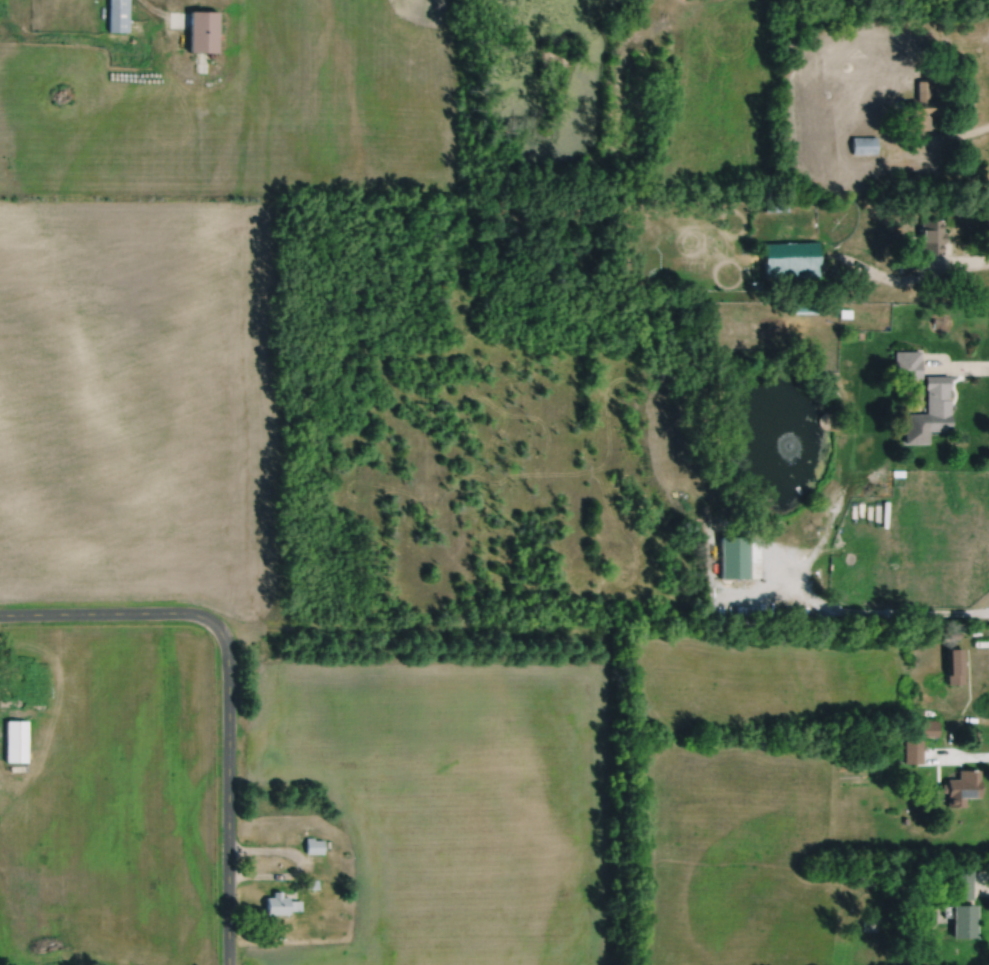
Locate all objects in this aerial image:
road: (156, 11)
building: (118, 15)
building: (202, 31)
building: (922, 106)
crop: (247, 110)
building: (860, 119)
road: (935, 140)
building: (864, 144)
building: (775, 206)
building: (931, 236)
building: (789, 259)
building: (907, 263)
building: (821, 264)
building: (843, 313)
building: (906, 364)
road: (956, 367)
crop: (138, 403)
building: (934, 404)
building: (897, 471)
building: (734, 554)
road: (859, 609)
road: (123, 611)
building: (951, 633)
building: (981, 642)
building: (954, 664)
building: (928, 726)
building: (15, 739)
building: (912, 750)
road: (958, 755)
building: (961, 786)
road: (228, 807)
building: (313, 844)
road: (300, 861)
building: (311, 882)
building: (962, 883)
building: (281, 903)
building: (962, 919)
building: (869, 924)
building: (921, 929)

